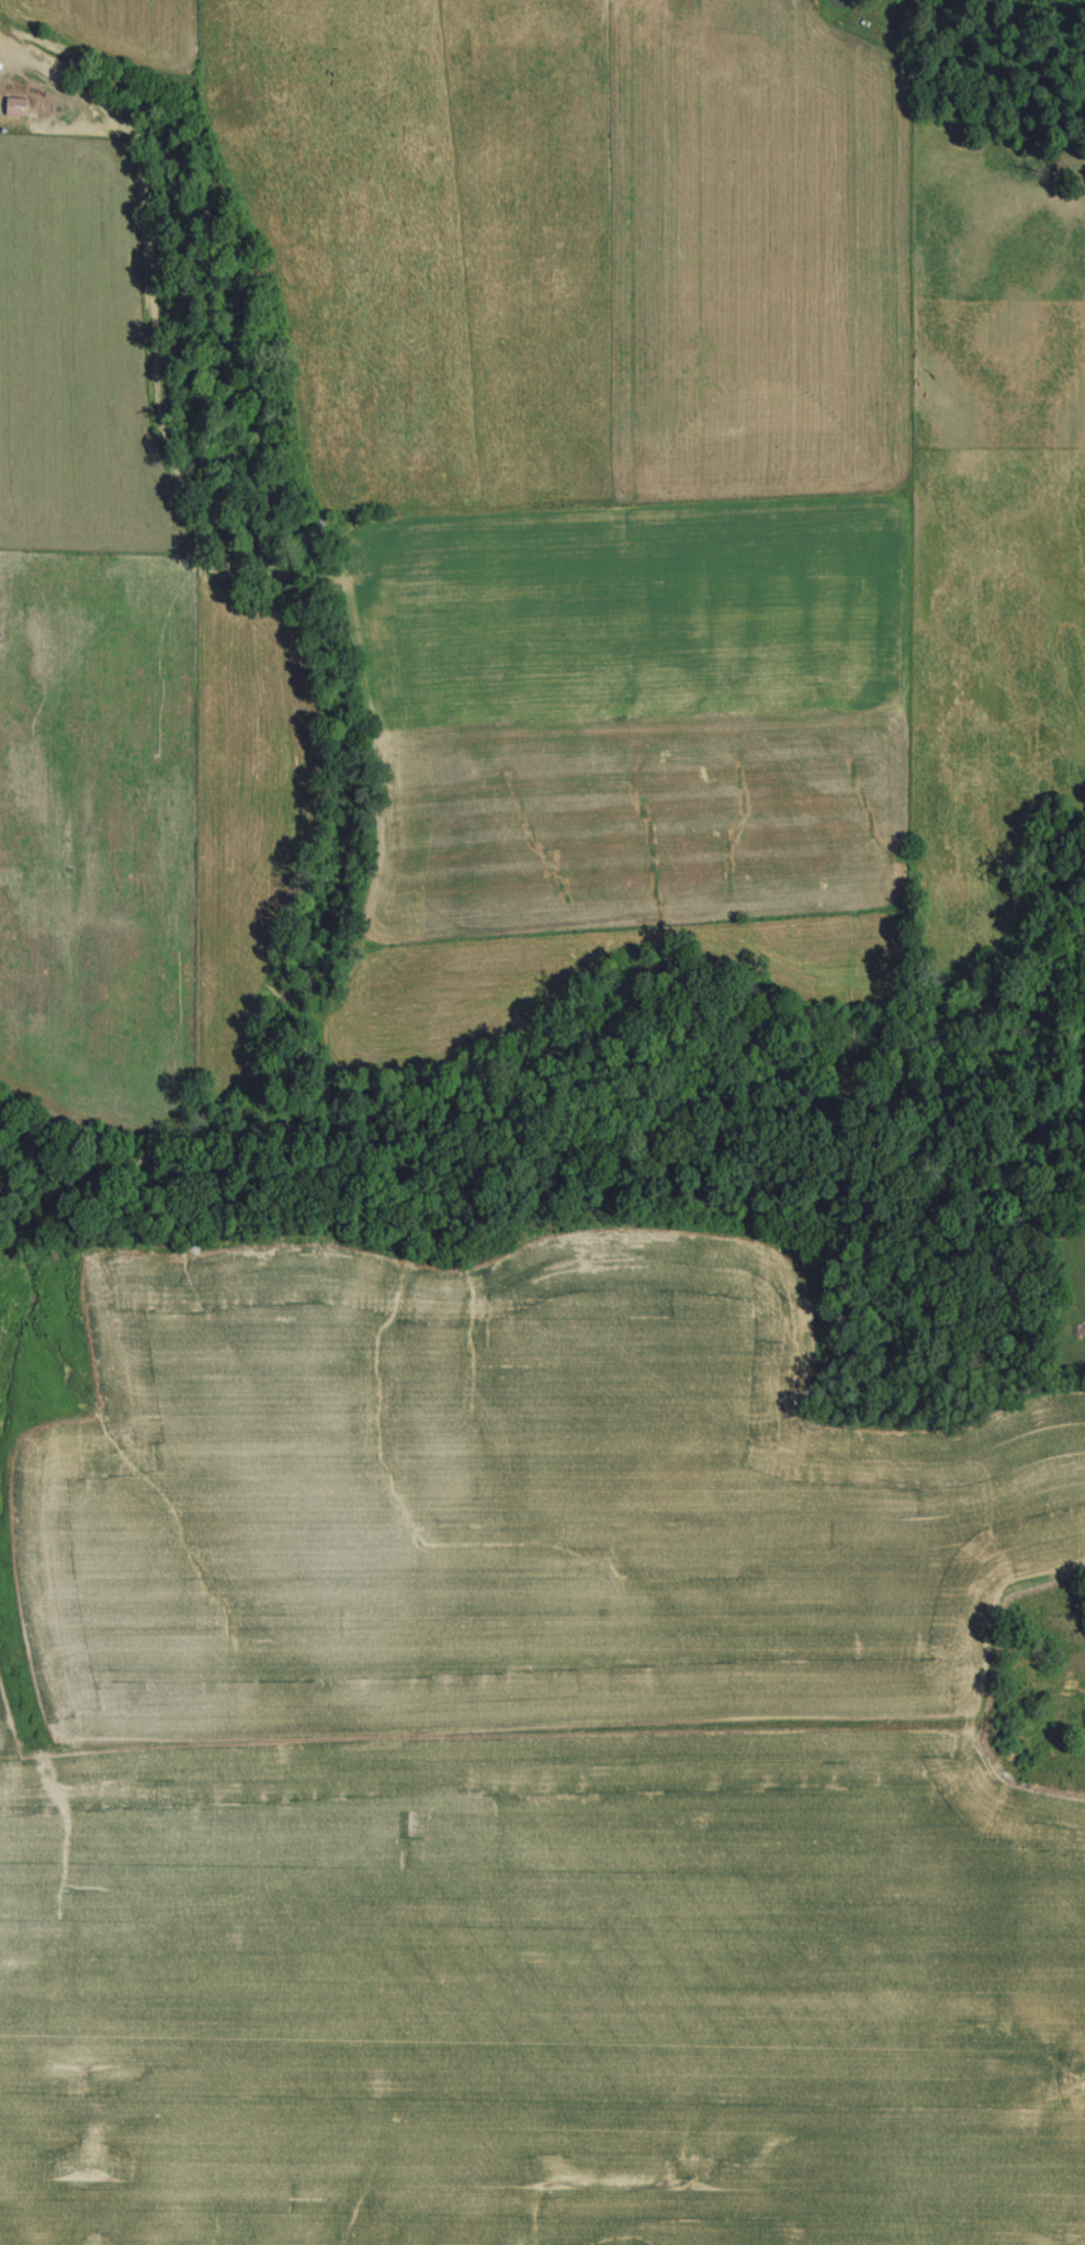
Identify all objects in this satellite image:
building: (12, 105)

